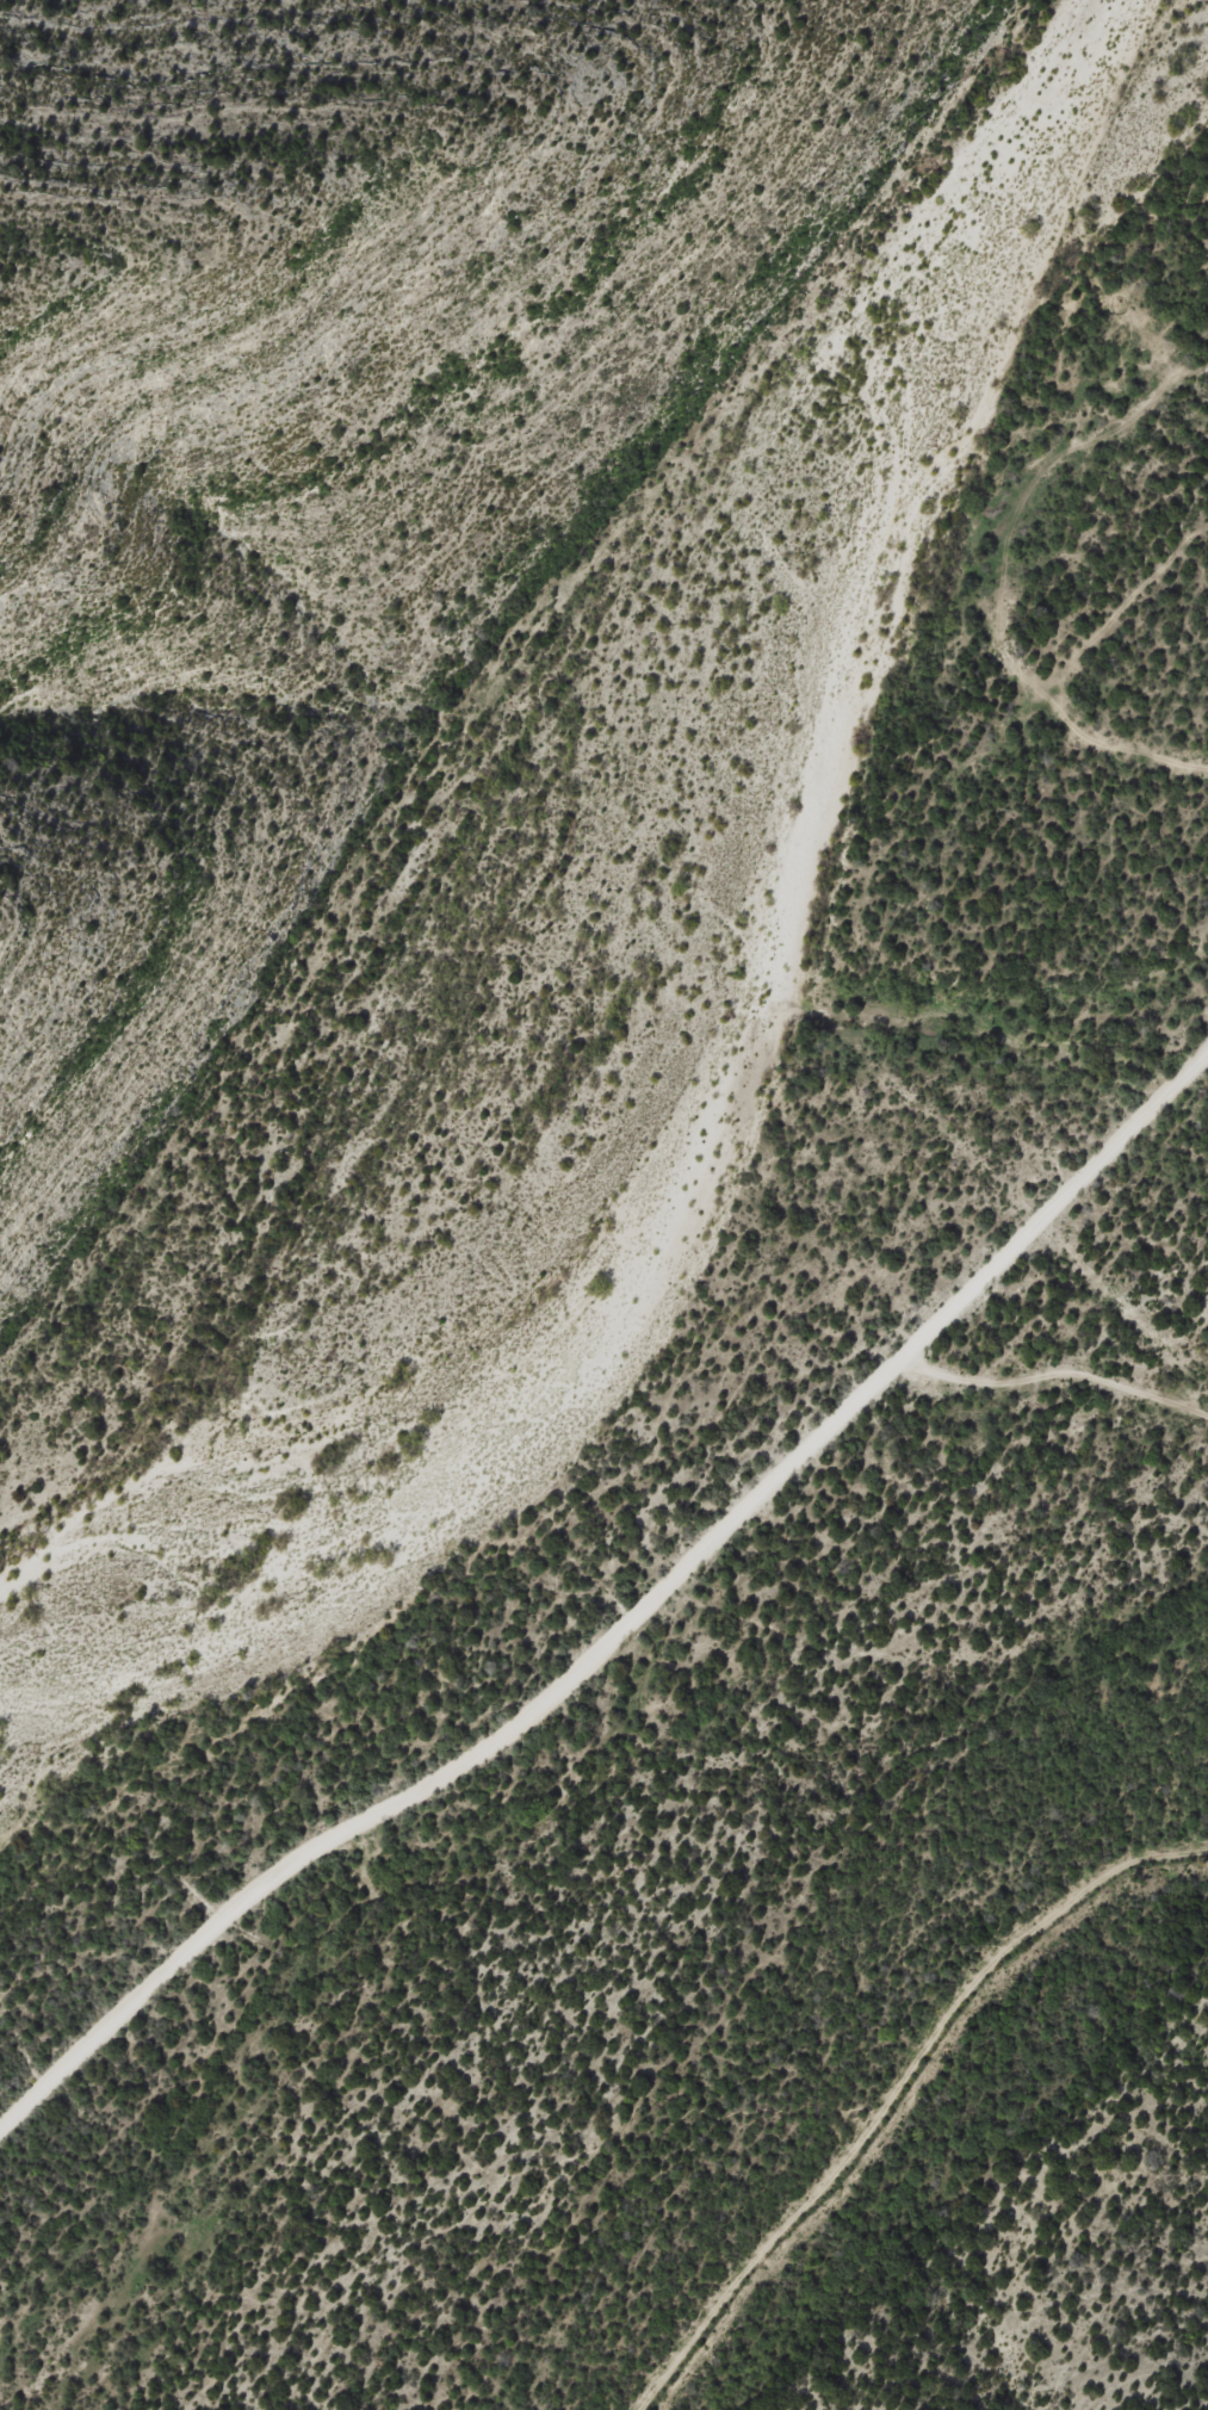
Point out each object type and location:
river: (720, 1020)
road: (1060, 1380)
road: (631, 1623)

